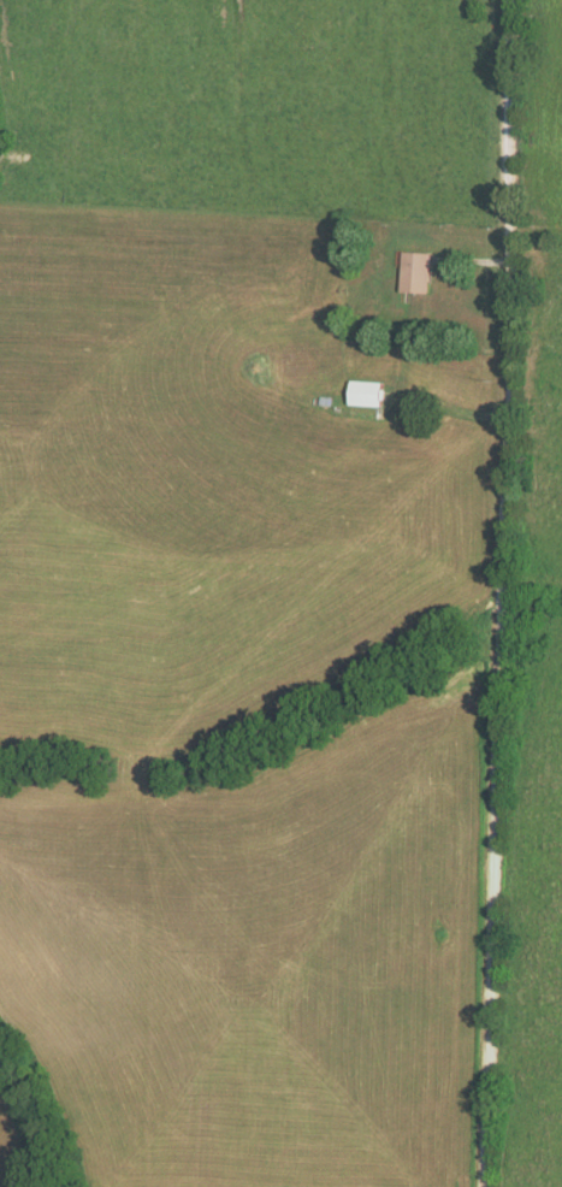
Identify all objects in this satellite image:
building: (418, 271)
road: (427, 359)
building: (368, 392)
road: (499, 593)

